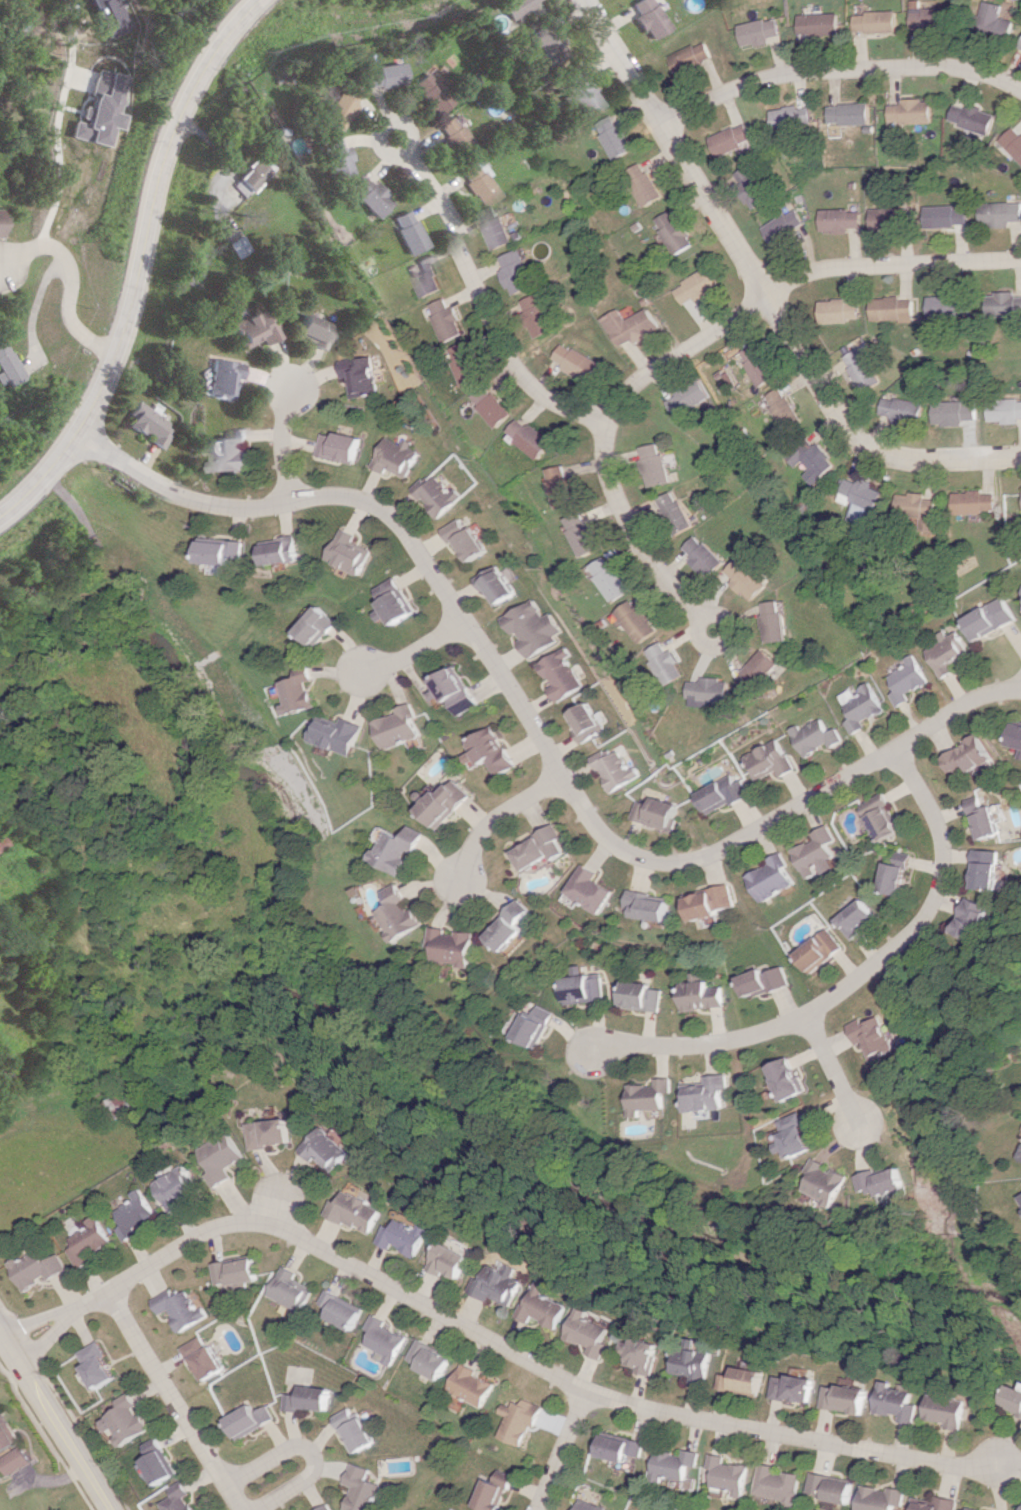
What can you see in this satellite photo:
building: (516, 6)
building: (929, 14)
building: (110, 16)
building: (648, 17)
building: (993, 20)
building: (879, 22)
building: (822, 24)
building: (761, 32)
building: (549, 42)
building: (1019, 46)
building: (690, 56)
road: (840, 71)
building: (381, 75)
building: (580, 90)
building: (431, 92)
building: (101, 109)
building: (334, 109)
building: (914, 111)
building: (854, 113)
building: (795, 117)
building: (973, 117)
road: (56, 122)
building: (456, 137)
building: (615, 137)
building: (733, 139)
building: (1012, 142)
building: (332, 158)
building: (247, 177)
building: (475, 181)
building: (643, 183)
building: (751, 186)
building: (366, 195)
building: (997, 213)
building: (946, 216)
building: (886, 218)
building: (842, 219)
building: (0, 223)
building: (784, 226)
building: (498, 227)
building: (404, 231)
building: (672, 231)
building: (234, 246)
road: (136, 261)
building: (519, 272)
building: (427, 275)
road: (73, 278)
road: (789, 283)
building: (691, 287)
road: (760, 292)
road: (481, 294)
road: (34, 301)
building: (1004, 304)
building: (947, 307)
building: (895, 309)
building: (841, 310)
building: (541, 315)
building: (449, 319)
building: (629, 325)
building: (256, 327)
building: (316, 330)
building: (578, 361)
building: (468, 364)
building: (754, 364)
building: (7, 365)
building: (867, 374)
building: (356, 375)
building: (222, 378)
building: (723, 378)
building: (681, 398)
building: (496, 405)
building: (782, 408)
building: (904, 410)
building: (1004, 410)
building: (954, 412)
building: (147, 424)
building: (534, 437)
road: (282, 440)
building: (337, 446)
building: (232, 451)
building: (396, 457)
building: (810, 459)
building: (647, 464)
building: (564, 486)
building: (438, 495)
building: (862, 501)
building: (976, 502)
building: (925, 510)
building: (667, 512)
building: (582, 534)
road: (631, 535)
building: (467, 540)
building: (225, 551)
building: (284, 551)
building: (354, 552)
building: (697, 555)
building: (744, 577)
building: (606, 578)
building: (496, 586)
building: (398, 601)
building: (990, 618)
building: (633, 621)
building: (771, 621)
building: (320, 626)
building: (530, 628)
building: (947, 652)
road: (415, 653)
building: (663, 663)
building: (756, 671)
building: (557, 674)
building: (906, 680)
building: (455, 690)
building: (303, 691)
building: (708, 691)
building: (857, 706)
building: (583, 722)
road: (532, 726)
building: (401, 727)
building: (341, 734)
building: (1017, 735)
building: (811, 736)
building: (494, 750)
building: (967, 756)
building: (766, 760)
building: (613, 769)
building: (721, 794)
building: (449, 803)
building: (657, 813)
building: (878, 817)
building: (982, 818)
road: (499, 819)
building: (2, 842)
building: (543, 847)
building: (401, 849)
building: (815, 853)
building: (985, 869)
building: (892, 876)
building: (771, 878)
building: (593, 889)
building: (710, 902)
building: (651, 905)
building: (404, 913)
building: (855, 918)
building: (975, 918)
building: (512, 926)
building: (457, 946)
building: (817, 950)
building: (761, 981)
road: (852, 981)
building: (583, 989)
building: (698, 993)
building: (640, 996)
building: (535, 1026)
building: (873, 1036)
road: (832, 1075)
building: (786, 1078)
building: (650, 1095)
building: (706, 1095)
building: (117, 1105)
building: (266, 1133)
building: (794, 1136)
building: (323, 1148)
building: (218, 1157)
building: (1020, 1158)
building: (888, 1180)
building: (828, 1181)
building: (173, 1187)
road: (274, 1207)
building: (352, 1211)
building: (132, 1214)
building: (400, 1237)
building: (86, 1241)
building: (445, 1260)
building: (35, 1268)
building: (231, 1274)
building: (493, 1285)
building: (287, 1290)
building: (538, 1307)
building: (179, 1308)
building: (338, 1310)
road: (36, 1319)
building: (584, 1333)
road: (45, 1335)
building: (380, 1340)
road: (512, 1352)
building: (638, 1354)
building: (203, 1358)
building: (425, 1359)
building: (689, 1364)
building: (99, 1365)
building: (740, 1381)
building: (468, 1385)
building: (790, 1388)
building: (841, 1398)
road: (177, 1399)
building: (305, 1399)
building: (1011, 1399)
building: (892, 1402)
building: (942, 1410)
building: (128, 1420)
building: (248, 1420)
building: (518, 1420)
road: (55, 1422)
building: (353, 1430)
building: (6, 1433)
building: (618, 1447)
road: (309, 1450)
road: (561, 1450)
building: (16, 1460)
building: (161, 1461)
building: (672, 1464)
building: (728, 1474)
building: (776, 1484)
building: (829, 1487)
building: (361, 1489)
building: (493, 1491)
building: (182, 1498)
building: (880, 1498)
building: (934, 1504)
building: (588, 1506)
building: (325, 1507)
building: (964, 1509)
building: (1020, 1509)

